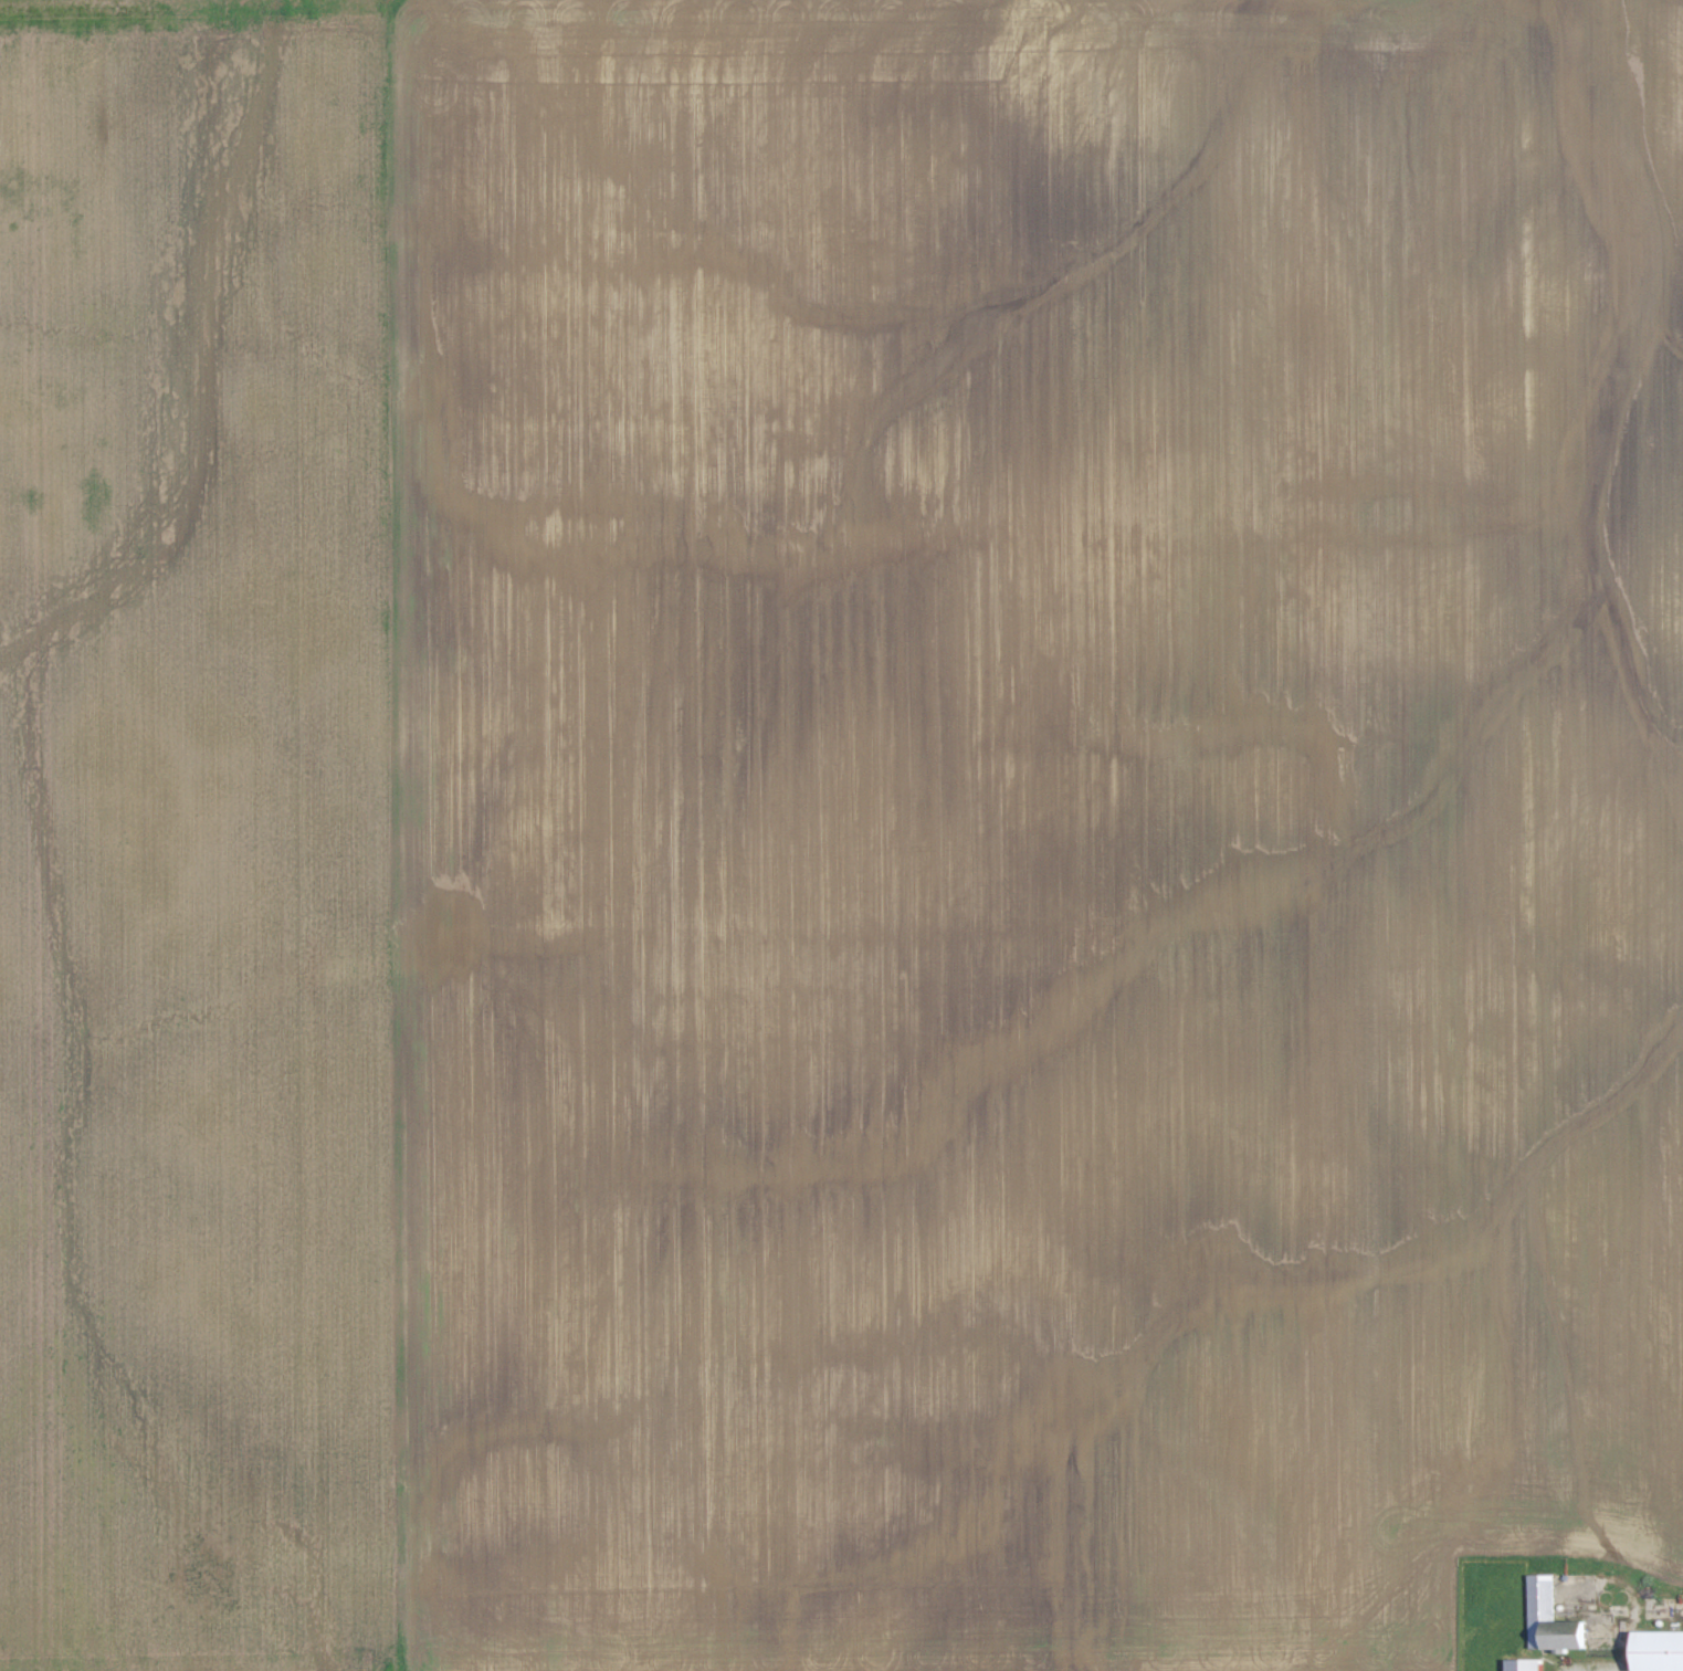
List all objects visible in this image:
building: (1555, 1617)
building: (1661, 1650)
building: (1527, 1663)

